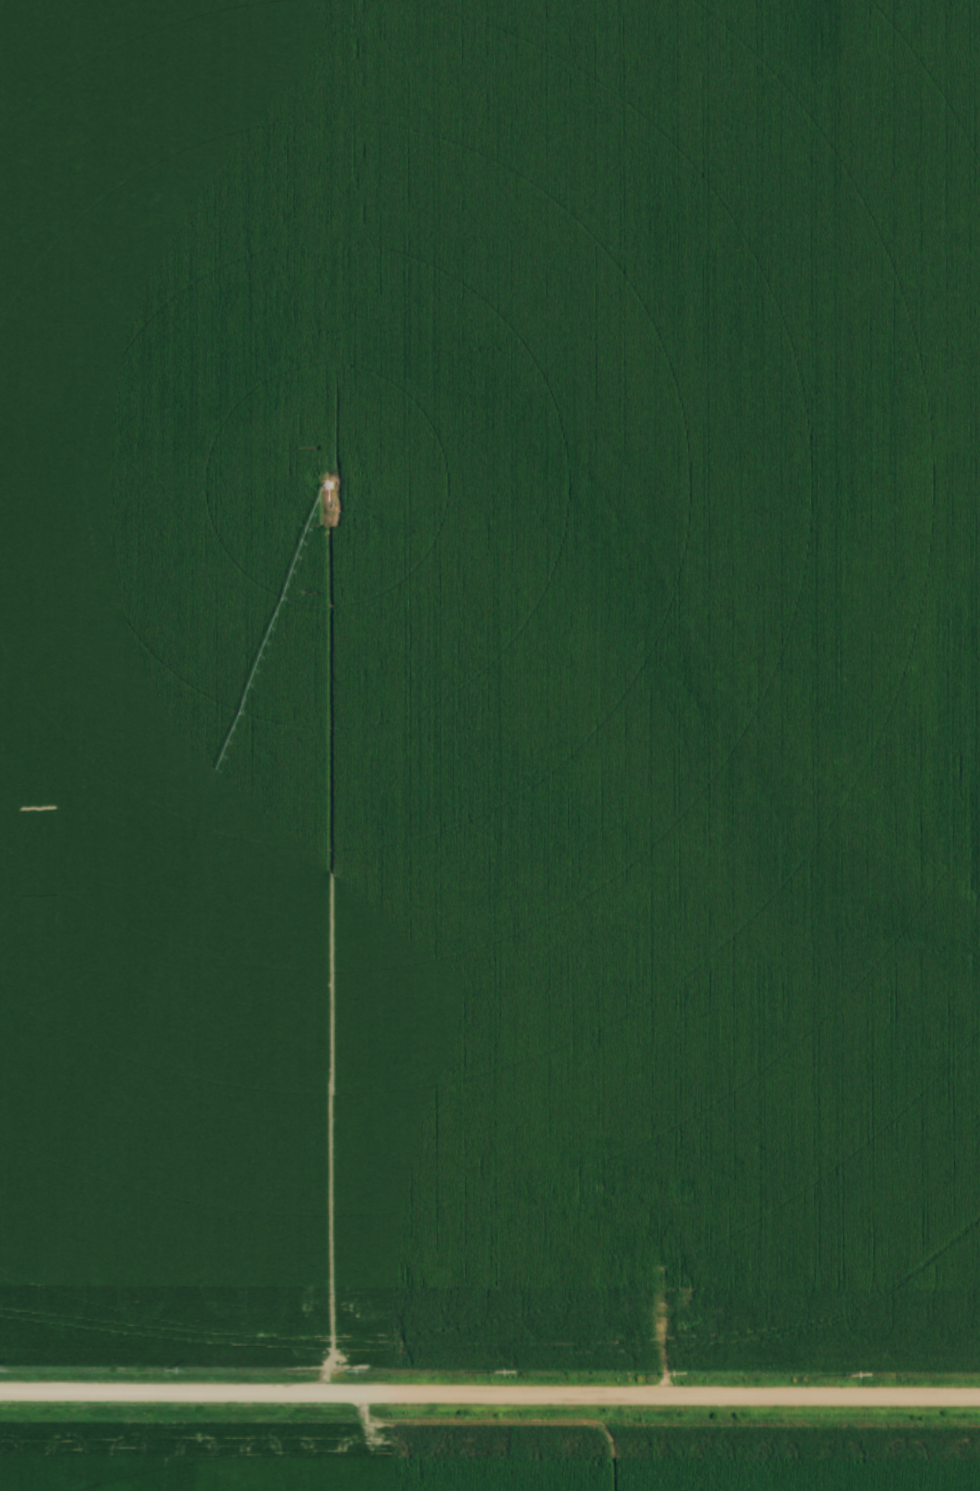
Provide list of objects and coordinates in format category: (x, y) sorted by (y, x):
building: (606, 1178)
building: (645, 1267)
road: (665, 1285)
building: (617, 1321)
building: (725, 1323)
road: (490, 1398)

